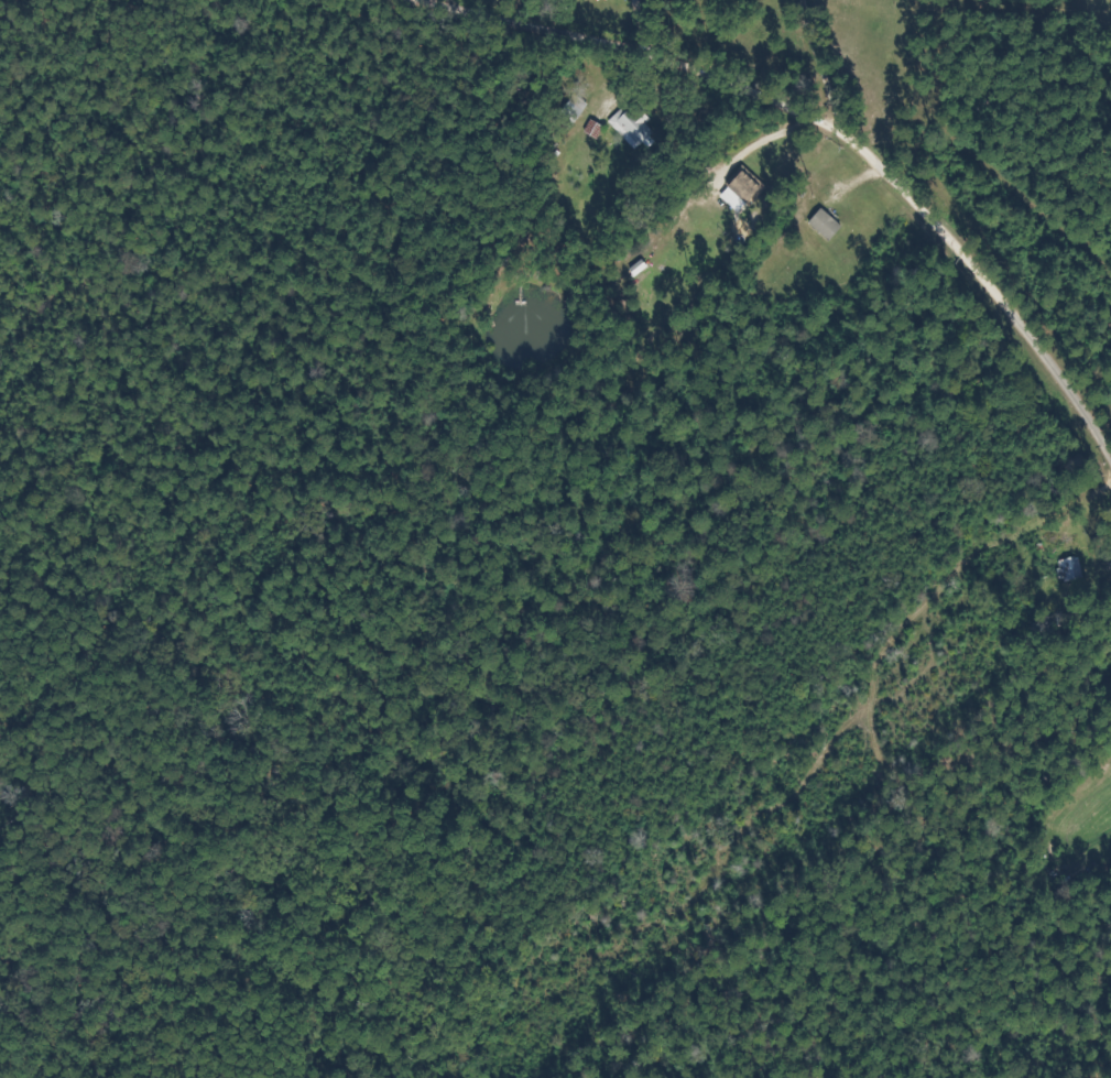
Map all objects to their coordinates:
road: (653, 31)
road: (853, 70)
building: (632, 124)
road: (830, 132)
building: (747, 186)
building: (1067, 567)

